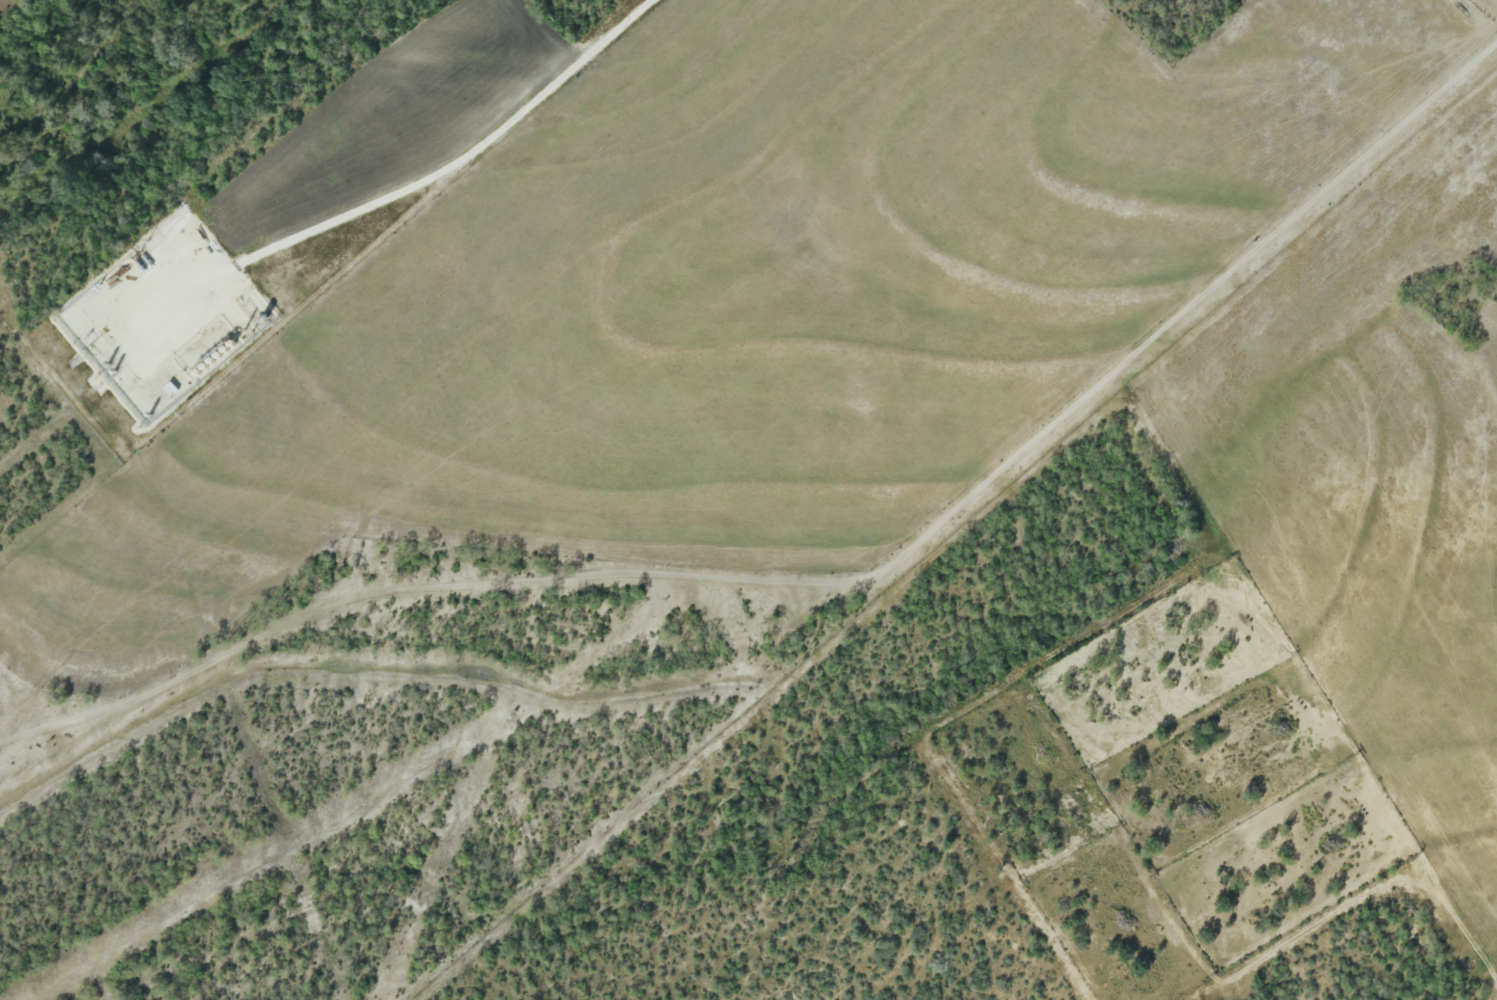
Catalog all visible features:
road: (451, 177)
road: (828, 582)

